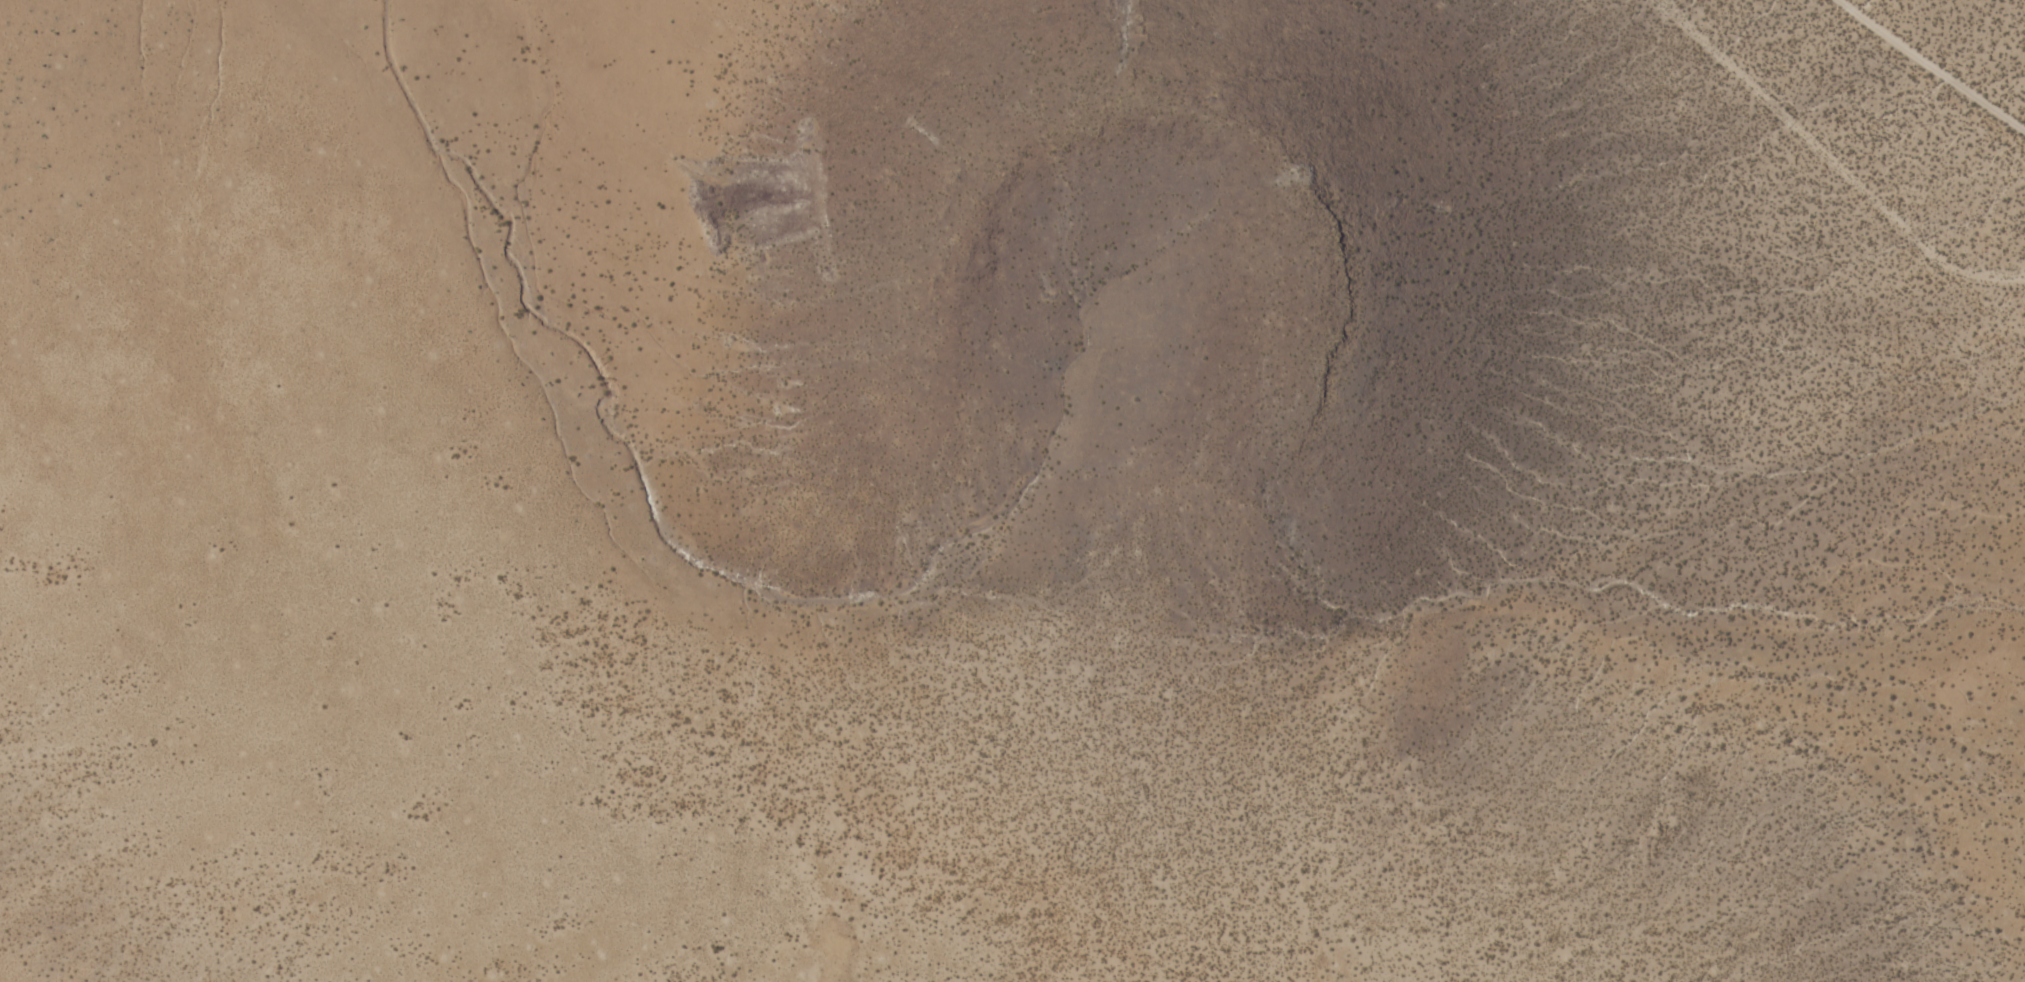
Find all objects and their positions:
road: (1913, 93)

